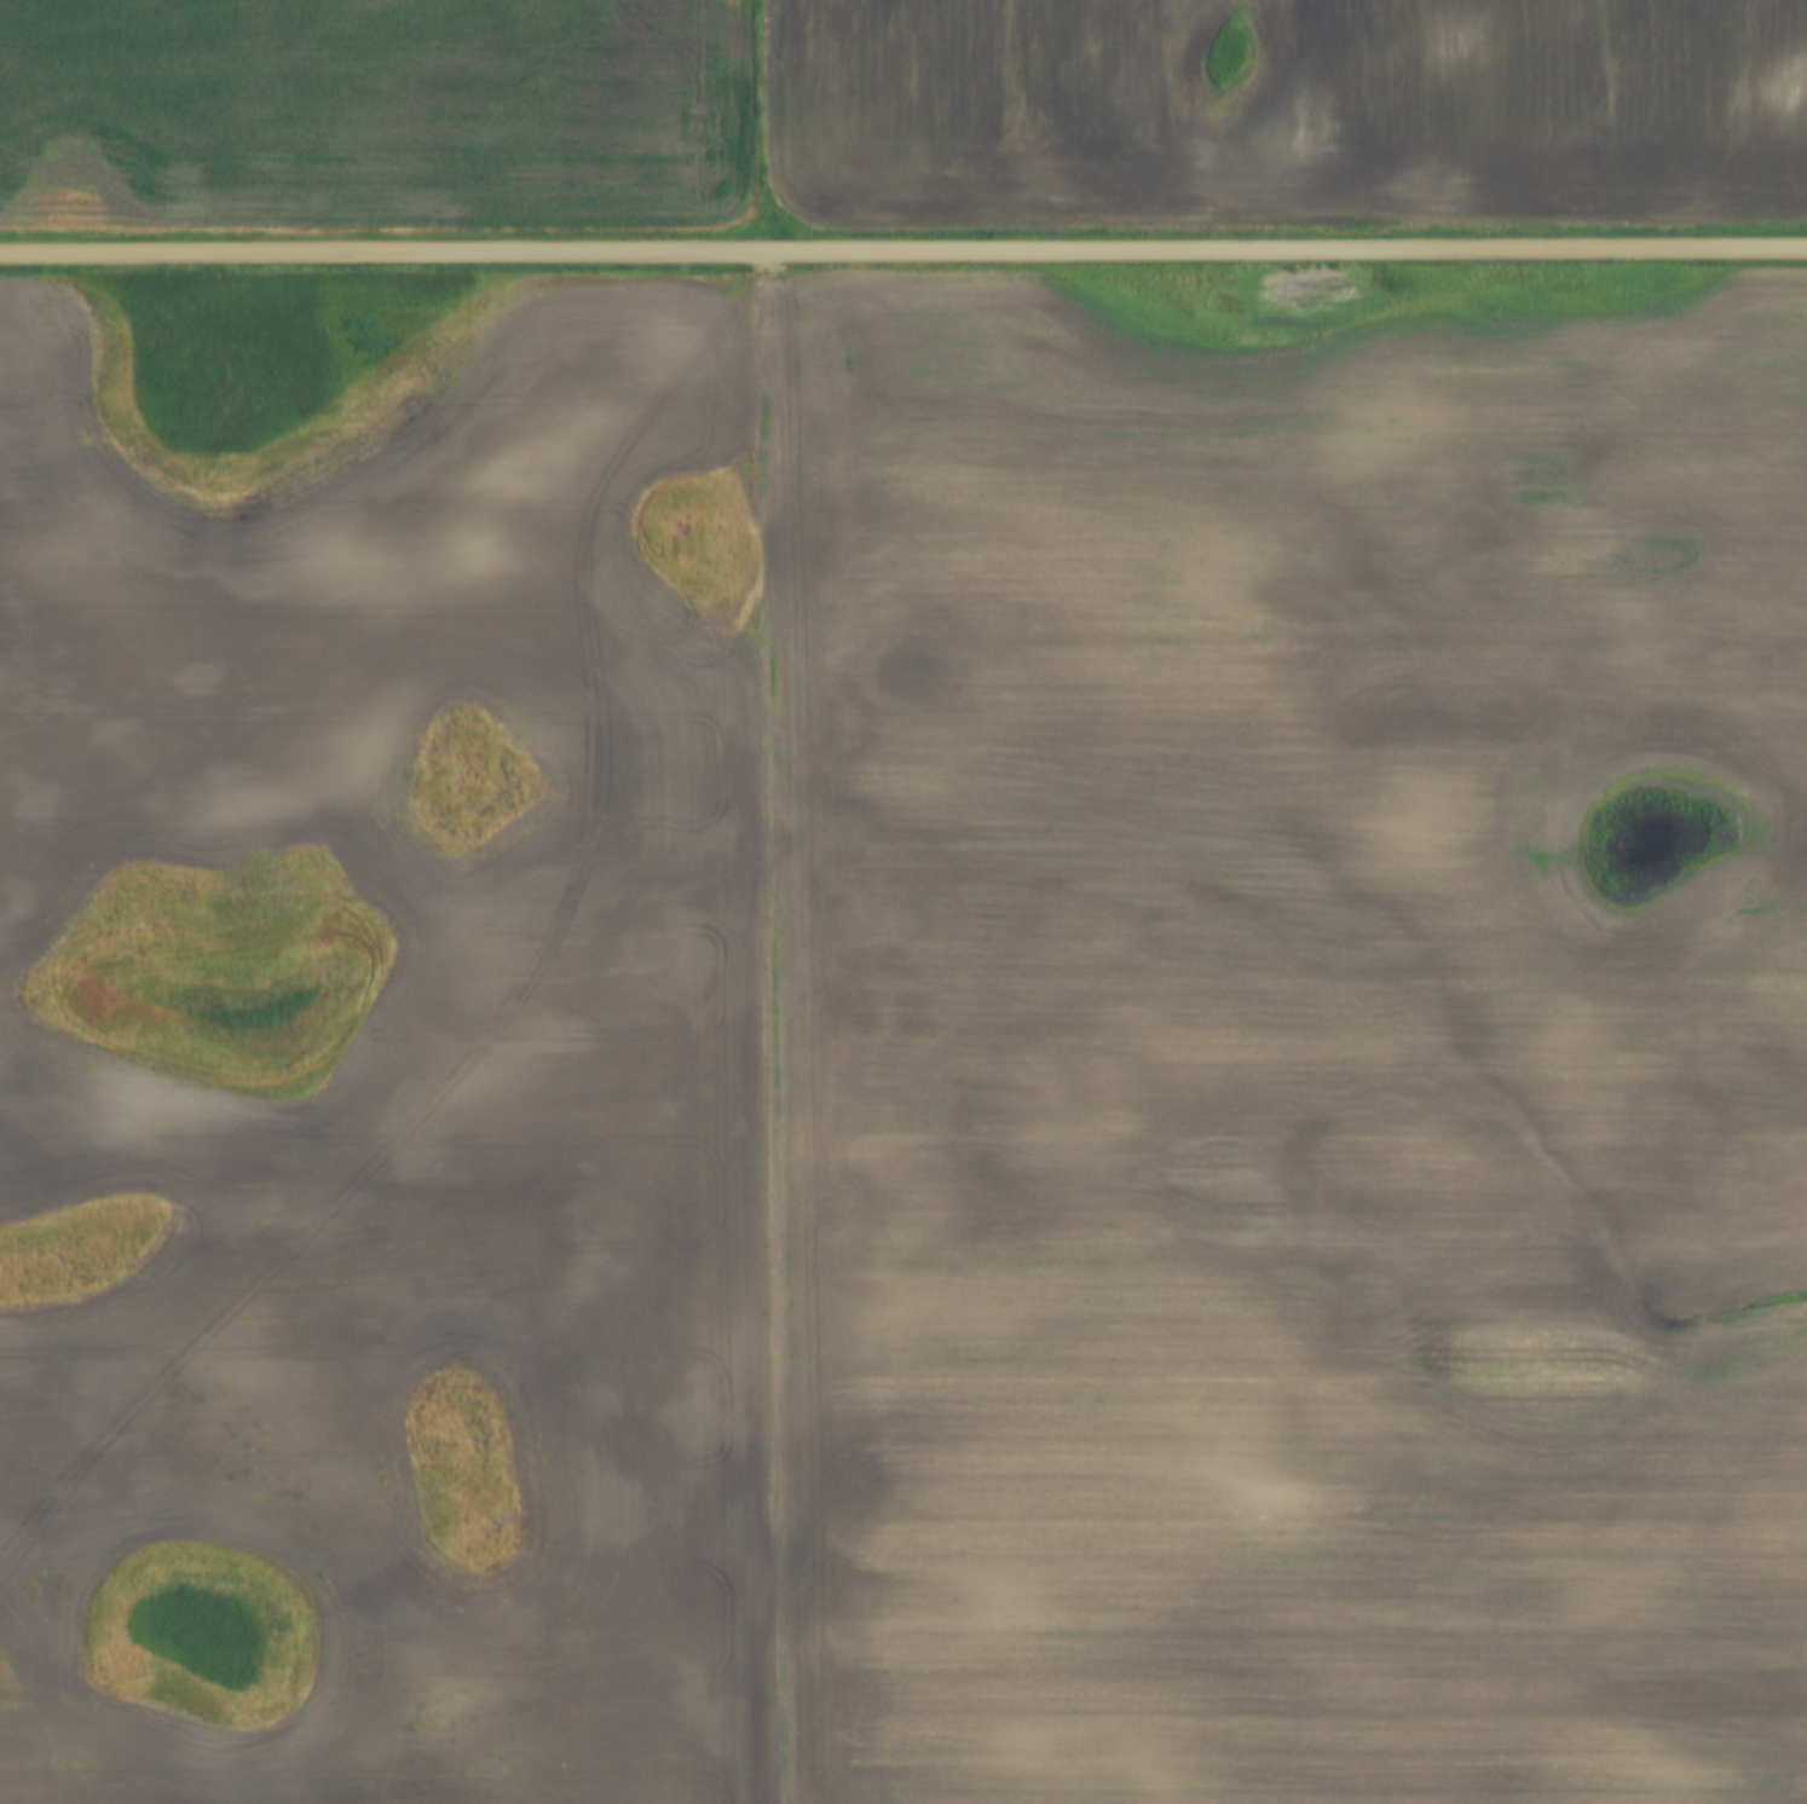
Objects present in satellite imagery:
road: (902, 255)

